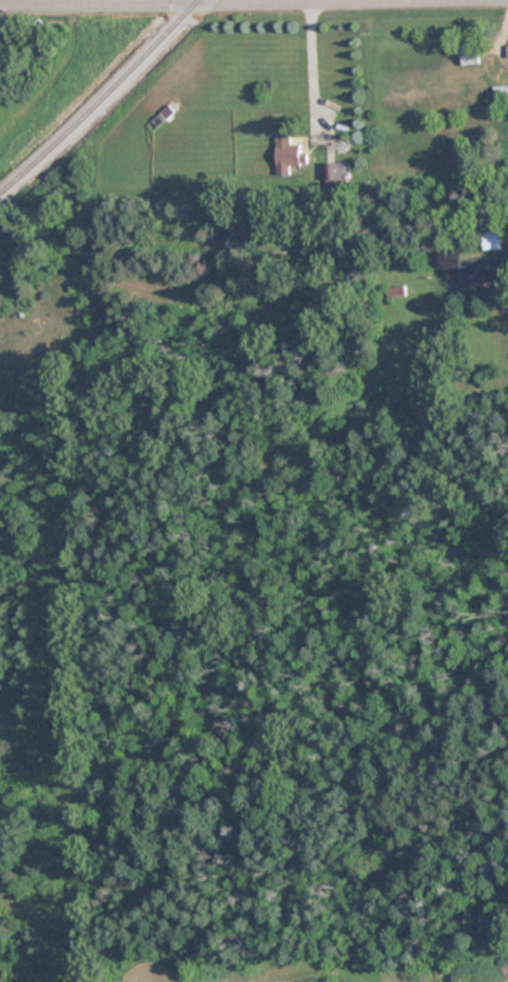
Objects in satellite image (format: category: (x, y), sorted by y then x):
road: (195, 2)
building: (507, 51)
building: (469, 55)
road: (306, 66)
railway: (102, 99)
building: (290, 157)
building: (491, 240)
building: (481, 269)
building: (394, 293)

